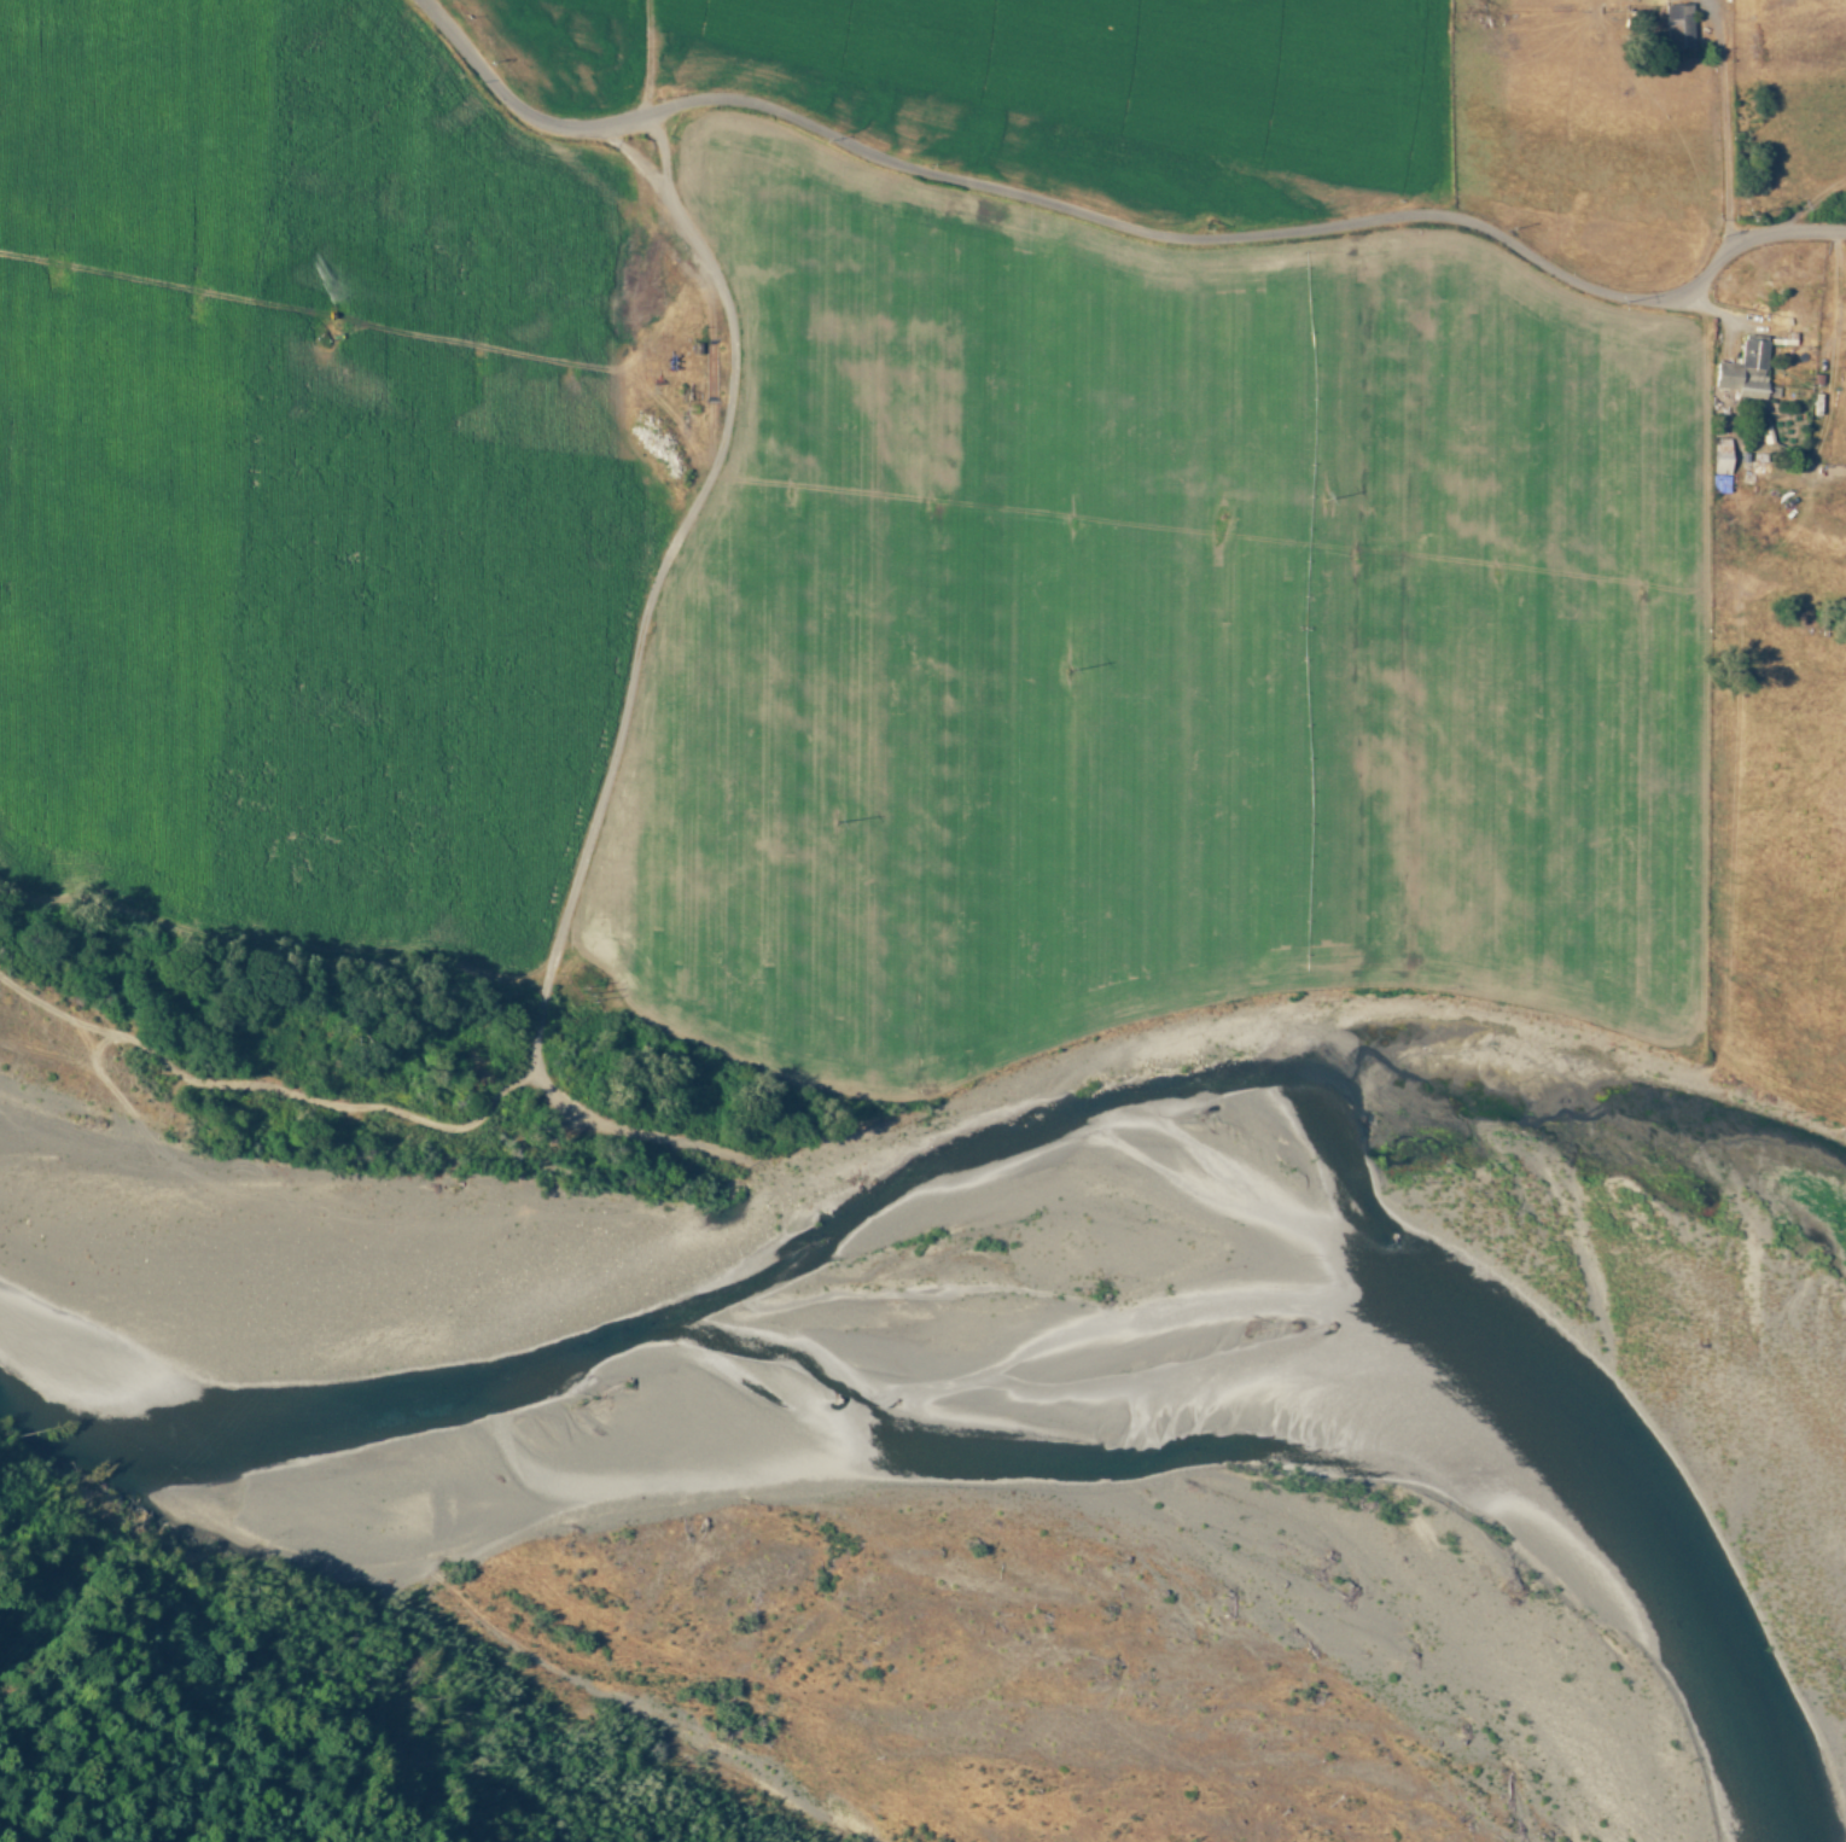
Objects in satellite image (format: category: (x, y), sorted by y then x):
building: (1678, 24)
road: (648, 57)
road: (1119, 222)
building: (1745, 368)
river: (722, 1434)
river: (1374, 1435)
river: (58, 1442)
river: (196, 1494)
river: (584, 1503)
river: (485, 1520)
river: (350, 1549)

